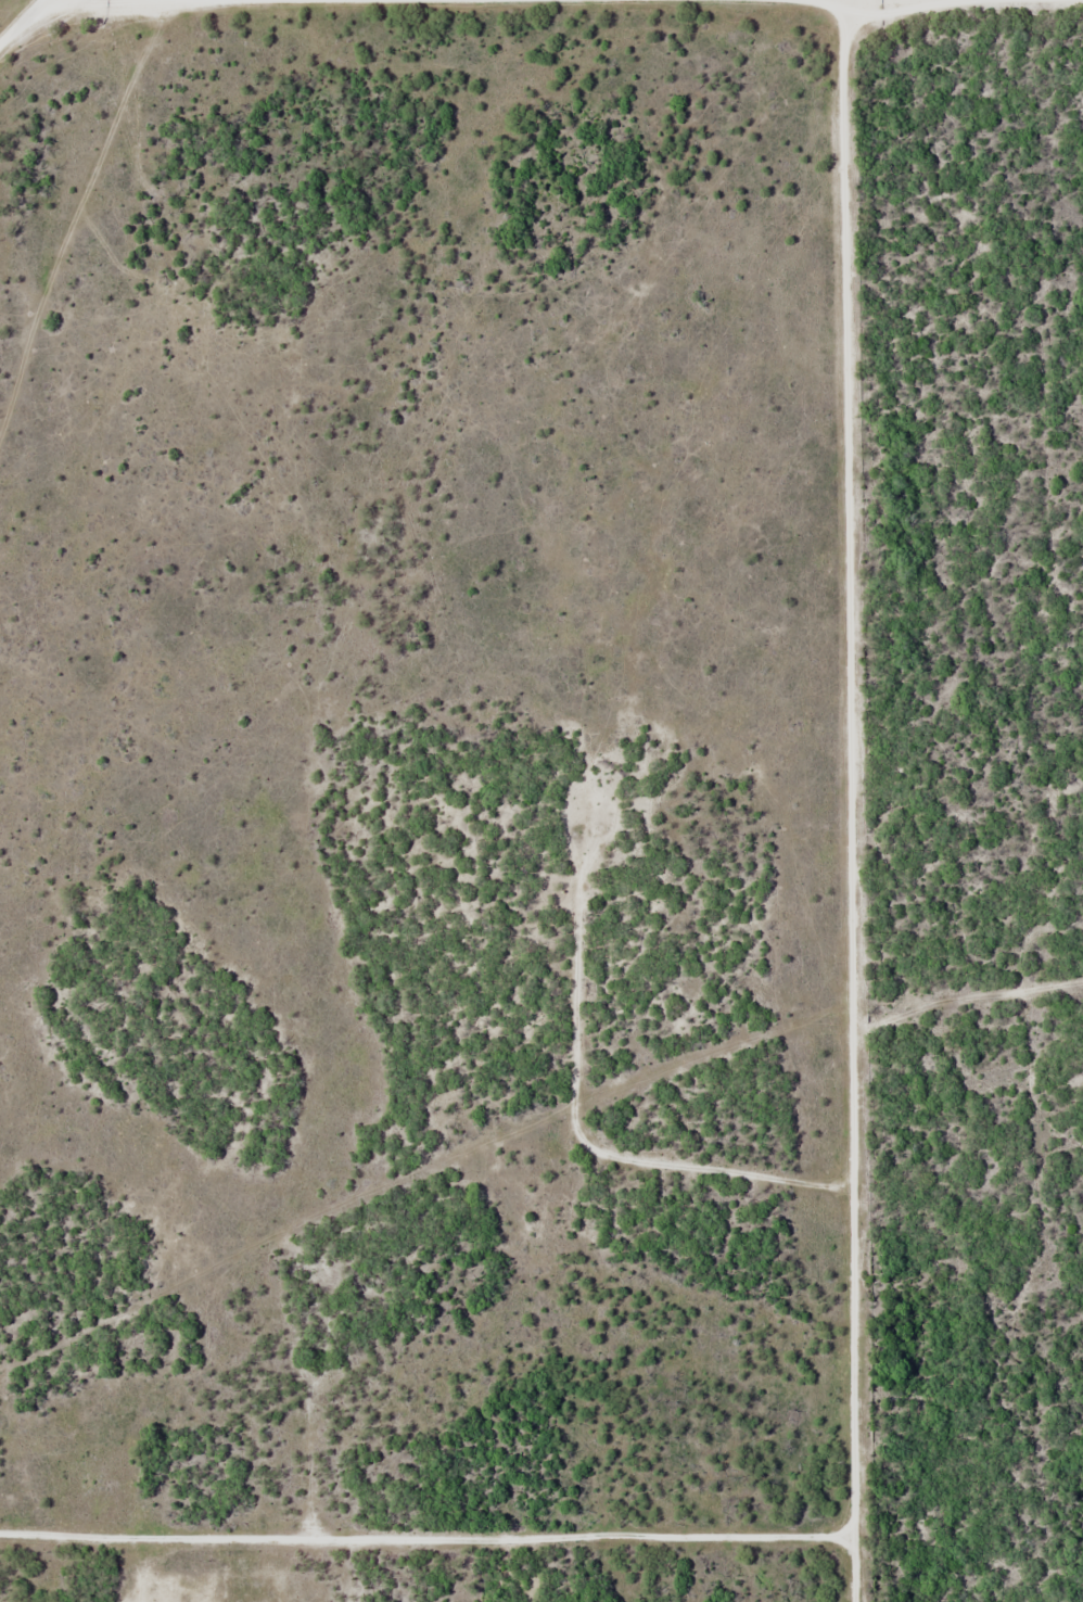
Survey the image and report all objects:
road: (178, 1)
road: (23, 24)
road: (862, 801)
road: (435, 1513)
road: (426, 1544)

